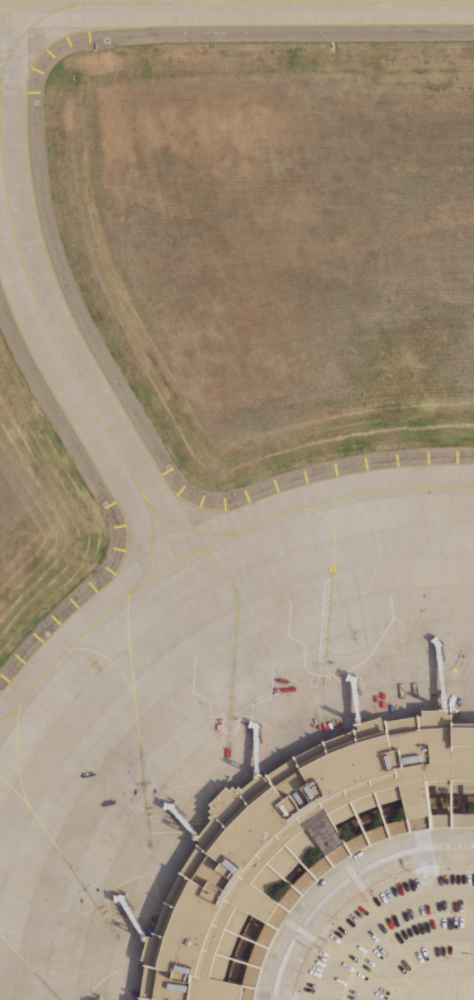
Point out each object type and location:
airport taxiway: (287, 1)
airport taxiway: (140, 2)
airport taxiway: (237, 3)
airport taxiway: (65, 4)
airport taxiway: (28, 30)
airport taxiway: (45, 324)
airport: (237, 500)
airport taxiway: (297, 512)
airport taxiway: (191, 528)
airport taxiway: (145, 556)
airport taxiway: (366, 589)
airport taxiway: (126, 621)
airport taxiway: (233, 626)
airport taxiway: (448, 627)
airport taxiway: (105, 661)
airport apron: (211, 691)
airport taxiway: (18, 754)
road: (453, 788)
airport terminal: (288, 839)
building: (288, 840)
airport taxiway: (57, 849)
road: (285, 853)
road: (335, 875)
road: (348, 888)
road: (375, 914)
road: (469, 928)
parking lot: (401, 945)
road: (405, 945)
airport taxiway: (27, 969)
road: (428, 970)

